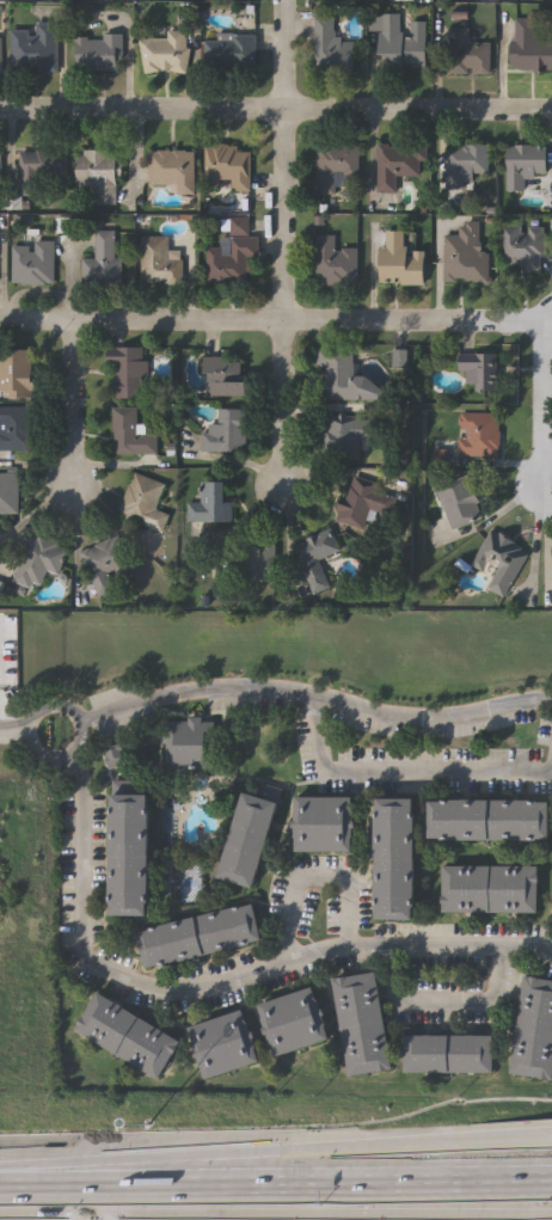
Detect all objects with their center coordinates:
building: (503, 0)
building: (399, 44)
building: (528, 47)
building: (36, 49)
building: (330, 49)
building: (231, 53)
building: (466, 53)
building: (100, 54)
building: (166, 54)
building: (0, 56)
road: (142, 114)
road: (418, 114)
road: (284, 160)
building: (333, 163)
building: (395, 163)
building: (465, 163)
building: (525, 164)
building: (227, 167)
building: (173, 168)
building: (48, 171)
building: (0, 174)
building: (99, 174)
building: (523, 245)
building: (232, 255)
building: (465, 255)
building: (399, 259)
building: (154, 260)
building: (335, 262)
building: (33, 263)
building: (104, 263)
road: (415, 321)
road: (141, 323)
building: (479, 369)
building: (17, 374)
building: (131, 374)
building: (345, 375)
building: (226, 376)
road: (286, 399)
road: (74, 407)
road: (546, 409)
building: (17, 428)
building: (226, 433)
building: (478, 433)
building: (131, 434)
building: (346, 435)
building: (10, 496)
building: (367, 497)
building: (459, 499)
building: (145, 503)
building: (213, 504)
building: (551, 548)
building: (314, 557)
building: (257, 559)
building: (499, 559)
building: (39, 560)
building: (106, 563)
road: (315, 698)
road: (17, 732)
road: (81, 732)
building: (189, 744)
road: (403, 781)
building: (491, 820)
building: (324, 826)
building: (249, 841)
building: (131, 856)
building: (397, 859)
road: (85, 870)
road: (315, 873)
building: (490, 890)
building: (198, 937)
road: (329, 952)
road: (446, 1003)
building: (298, 1024)
building: (362, 1025)
building: (534, 1032)
building: (127, 1037)
building: (223, 1046)
building: (449, 1055)
road: (275, 1150)
road: (275, 1184)

